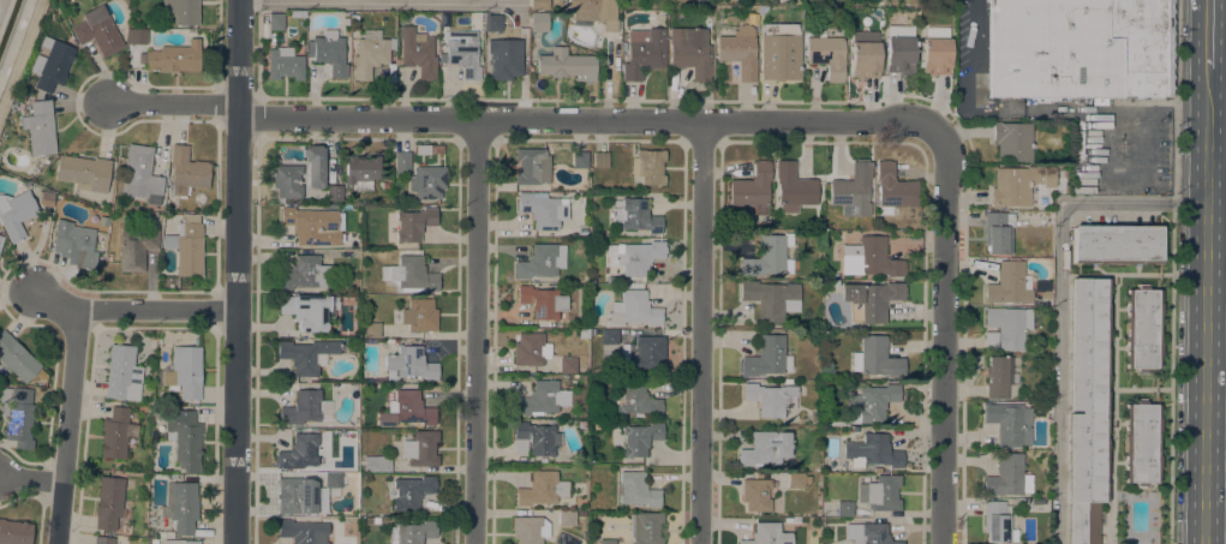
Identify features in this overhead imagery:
road: (376, 1)
building: (702, 4)
building: (538, 5)
building: (181, 11)
building: (297, 12)
building: (596, 12)
road: (1215, 12)
road: (1206, 18)
building: (275, 22)
building: (539, 22)
building: (494, 23)
building: (97, 31)
building: (264, 34)
building: (136, 37)
building: (371, 48)
building: (1080, 48)
road: (19, 50)
building: (738, 50)
building: (328, 52)
building: (417, 52)
building: (644, 52)
building: (779, 52)
building: (462, 53)
building: (690, 53)
road: (1206, 53)
building: (899, 54)
road: (974, 54)
building: (826, 55)
building: (935, 55)
building: (172, 58)
building: (504, 59)
building: (865, 60)
building: (50, 64)
building: (283, 64)
building: (567, 65)
road: (526, 122)
building: (40, 127)
building: (1011, 141)
building: (423, 149)
building: (579, 160)
building: (600, 160)
building: (401, 162)
building: (313, 165)
building: (532, 166)
building: (648, 166)
building: (186, 171)
building: (83, 172)
building: (361, 172)
building: (140, 174)
building: (287, 180)
building: (427, 181)
building: (1018, 184)
building: (385, 185)
building: (750, 186)
building: (793, 187)
building: (892, 189)
building: (851, 190)
building: (334, 192)
building: (46, 198)
road: (1134, 202)
building: (544, 210)
building: (16, 213)
building: (635, 215)
building: (311, 223)
building: (414, 223)
building: (582, 232)
building: (998, 232)
building: (102, 237)
building: (0, 239)
building: (74, 244)
building: (1116, 244)
building: (186, 245)
building: (134, 246)
building: (366, 255)
building: (634, 256)
building: (769, 256)
building: (869, 258)
building: (540, 261)
road: (239, 271)
road: (1173, 271)
building: (305, 274)
building: (409, 274)
building: (833, 283)
building: (1009, 285)
building: (390, 288)
building: (1045, 295)
building: (771, 299)
building: (869, 299)
building: (542, 301)
road: (1207, 306)
road: (137, 309)
building: (309, 310)
building: (633, 310)
building: (419, 315)
building: (1009, 325)
building: (1142, 328)
building: (371, 329)
road: (471, 333)
building: (585, 333)
road: (701, 334)
road: (944, 335)
building: (610, 336)
building: (988, 339)
building: (390, 341)
building: (527, 348)
building: (644, 352)
building: (306, 354)
building: (16, 358)
building: (766, 358)
building: (875, 358)
building: (408, 364)
building: (567, 364)
building: (184, 371)
road: (1059, 372)
building: (121, 373)
building: (998, 376)
building: (788, 382)
building: (542, 397)
building: (771, 399)
building: (633, 401)
building: (868, 403)
building: (1087, 407)
building: (300, 408)
building: (406, 410)
building: (1039, 410)
building: (1047, 413)
building: (17, 416)
building: (1009, 423)
building: (581, 424)
road: (71, 426)
building: (116, 432)
building: (184, 438)
building: (533, 438)
building: (639, 438)
building: (1141, 443)
building: (351, 448)
building: (765, 448)
building: (420, 449)
building: (873, 450)
building: (298, 452)
building: (542, 460)
building: (377, 464)
building: (160, 477)
building: (1009, 477)
road: (34, 479)
building: (795, 479)
building: (331, 484)
building: (540, 489)
building: (635, 489)
building: (409, 492)
building: (879, 492)
building: (756, 494)
building: (295, 495)
building: (108, 502)
building: (593, 503)
building: (184, 507)
building: (844, 508)
building: (567, 518)
building: (796, 519)
building: (997, 522)
building: (126, 527)
building: (645, 527)
building: (528, 530)
building: (303, 531)
building: (14, 532)
building: (412, 532)
building: (165, 533)
building: (868, 533)
building: (767, 534)
building: (103, 539)
building: (154, 542)
building: (181, 542)
building: (606, 542)

